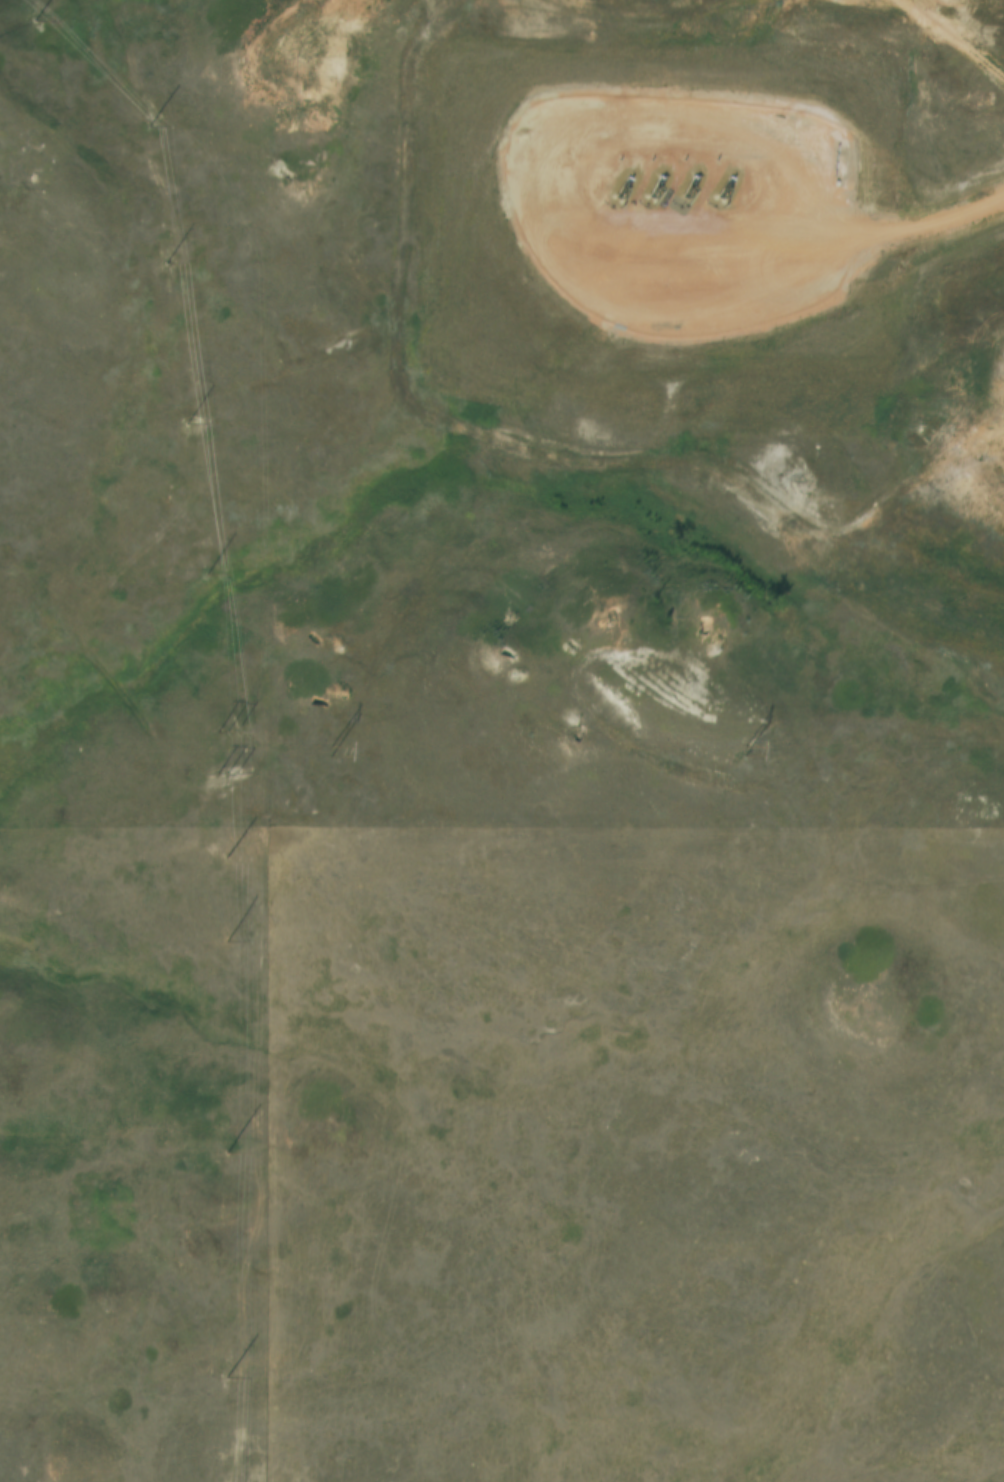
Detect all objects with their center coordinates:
quarry: (745, 127)

